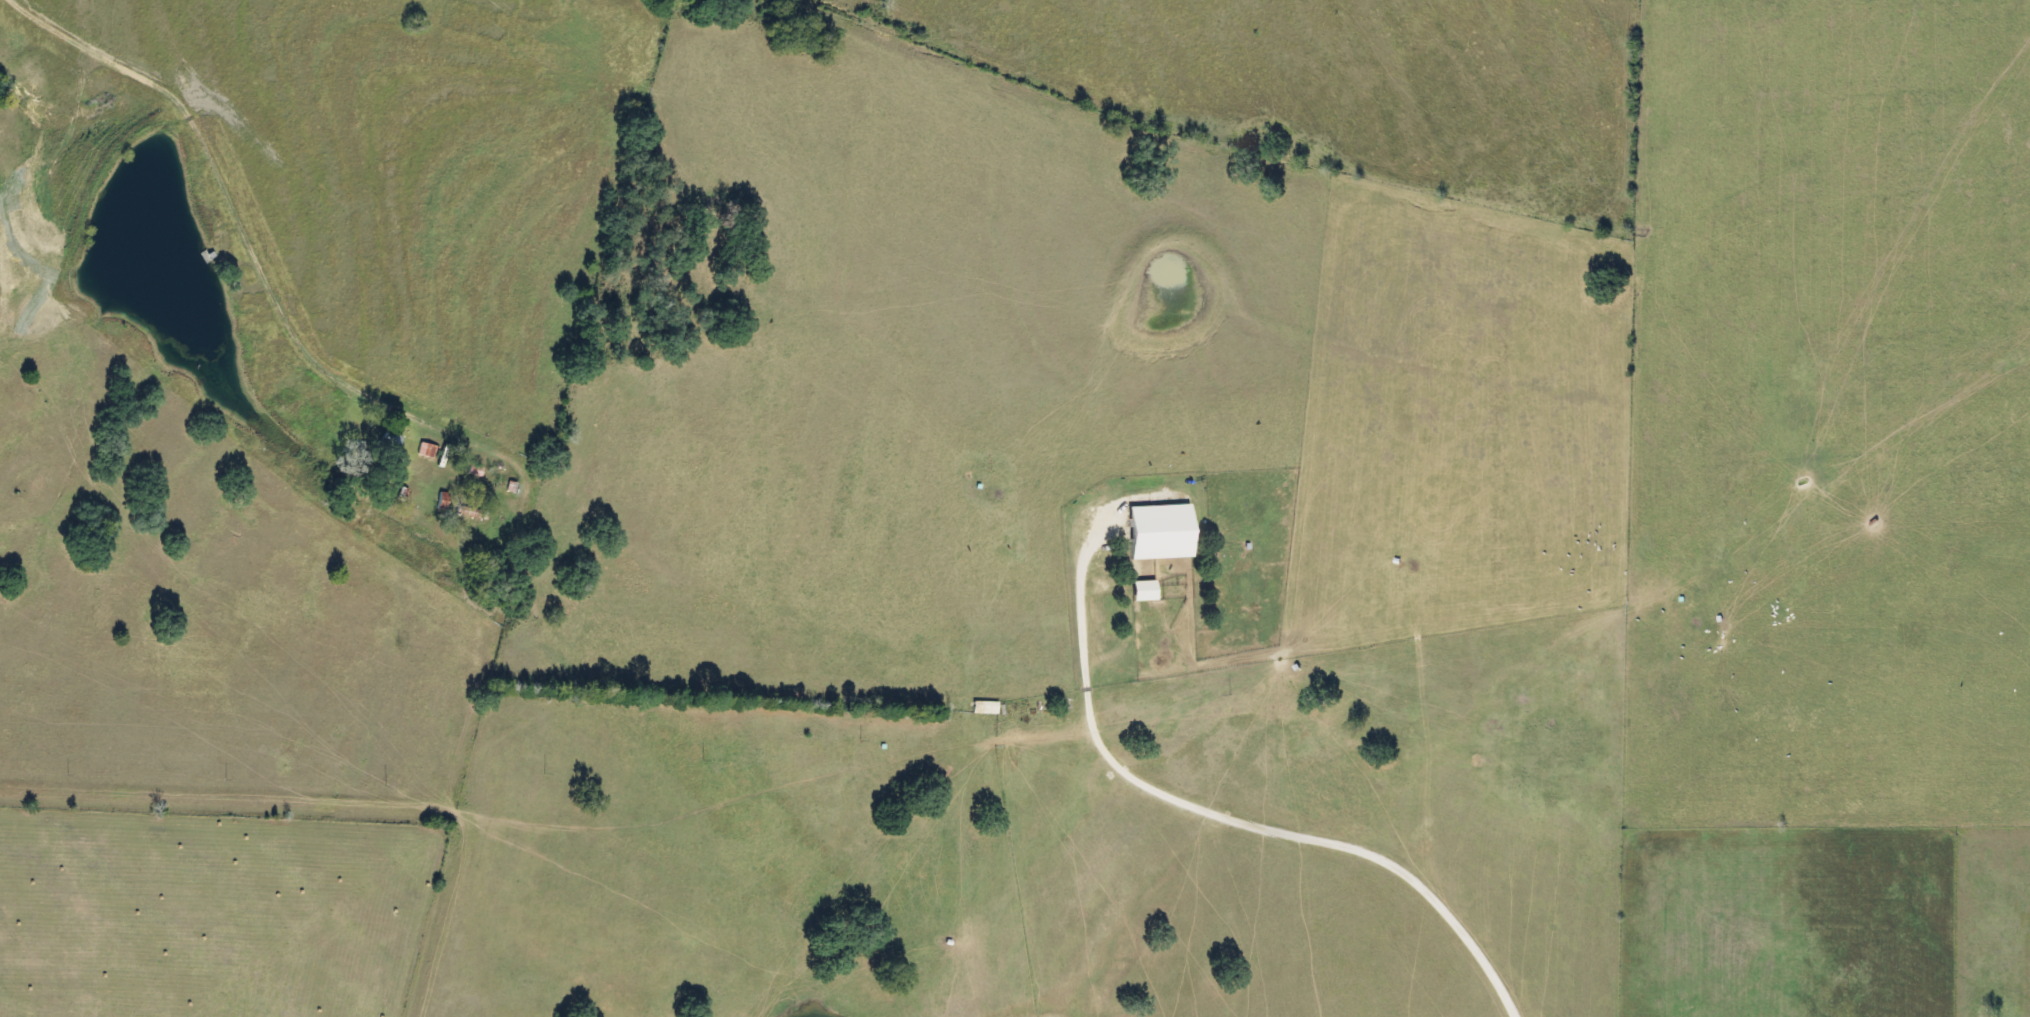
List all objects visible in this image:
building: (392, 440)
building: (428, 449)
building: (476, 469)
building: (443, 500)
building: (1163, 531)
road: (1080, 641)
road: (1000, 701)
building: (985, 707)
road: (341, 796)

